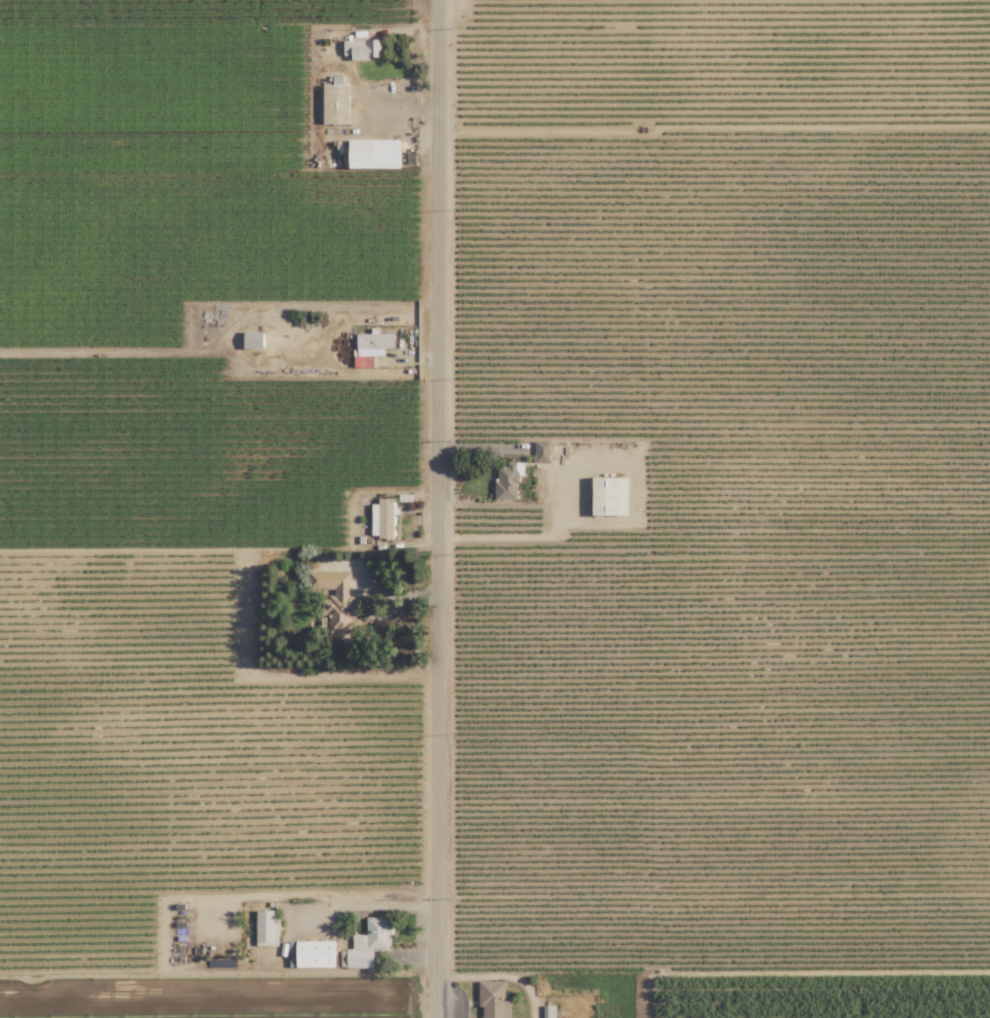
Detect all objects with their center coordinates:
building: (362, 49)
building: (335, 104)
building: (373, 154)
building: (252, 340)
building: (371, 348)
building: (540, 451)
building: (507, 480)
building: (609, 496)
road: (434, 508)
building: (382, 519)
building: (335, 600)
road: (363, 908)
building: (266, 928)
building: (367, 943)
building: (314, 954)
crop: (827, 999)
building: (492, 1000)
building: (548, 1011)

